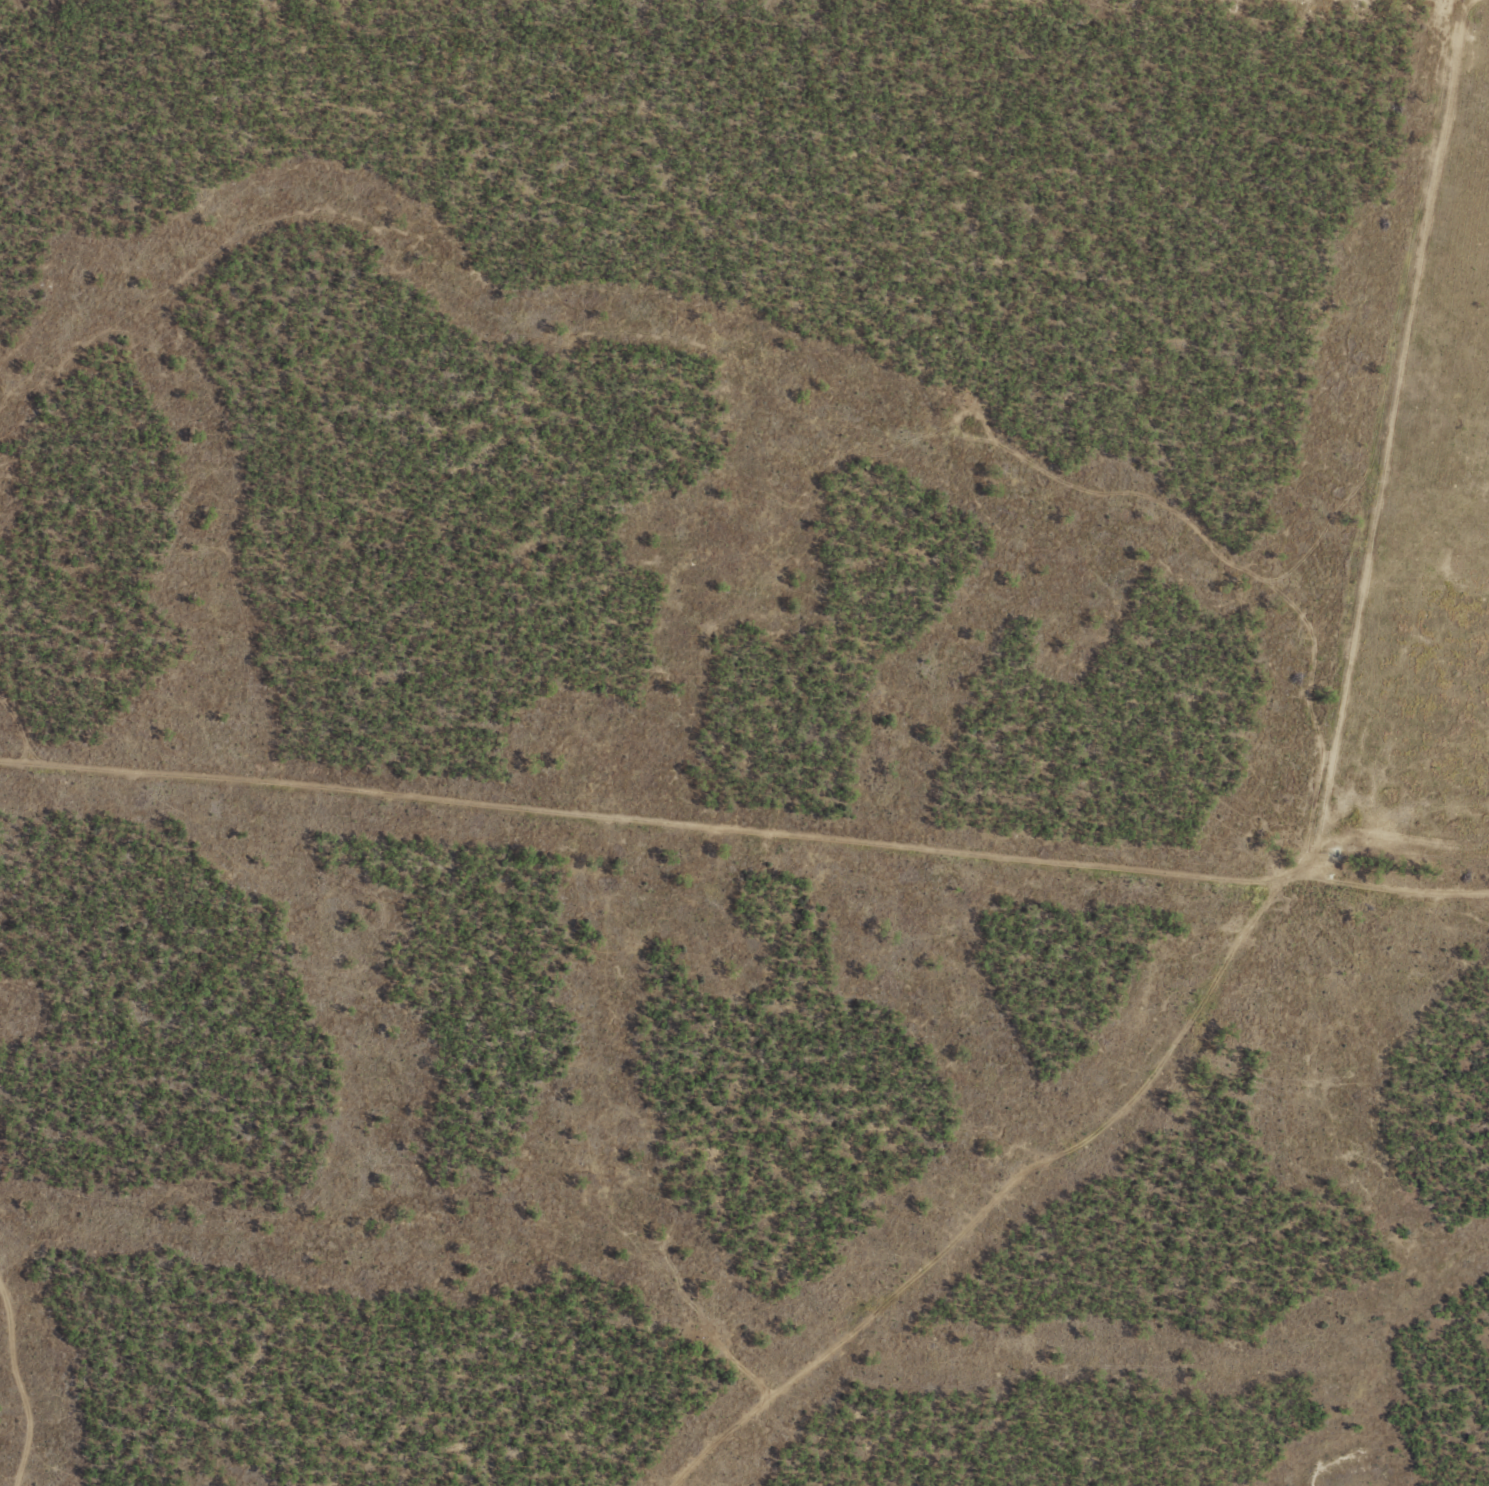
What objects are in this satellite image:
road: (1242, 1120)

